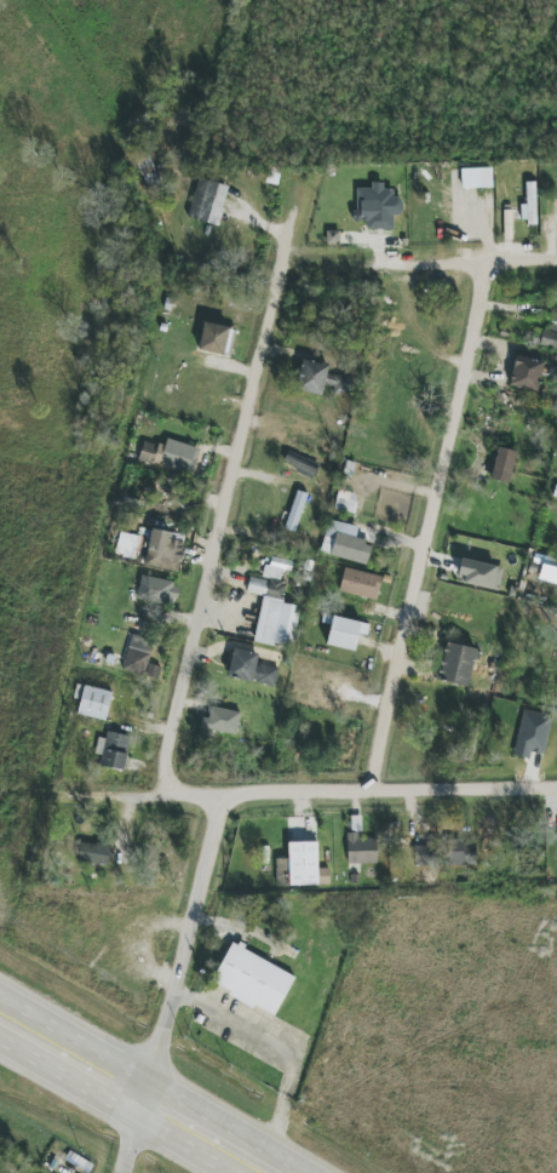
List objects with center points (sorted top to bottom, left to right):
building: (144, 165)
building: (476, 178)
building: (208, 202)
building: (529, 205)
building: (377, 207)
building: (332, 238)
road: (465, 263)
building: (216, 339)
building: (547, 339)
building: (526, 373)
building: (320, 379)
building: (157, 454)
building: (299, 465)
building: (503, 465)
building: (295, 511)
road: (220, 513)
road: (426, 523)
building: (344, 543)
building: (163, 551)
building: (480, 574)
building: (360, 584)
building: (157, 590)
building: (274, 610)
building: (344, 631)
building: (138, 654)
building: (455, 664)
building: (251, 669)
building: (94, 703)
building: (220, 720)
building: (532, 734)
building: (114, 750)
road: (306, 790)
building: (361, 849)
building: (461, 852)
building: (93, 853)
building: (424, 856)
building: (298, 865)
road: (189, 939)
building: (252, 979)
road: (73, 1045)
road: (280, 1049)
road: (108, 1109)
road: (132, 1128)
road: (216, 1129)

